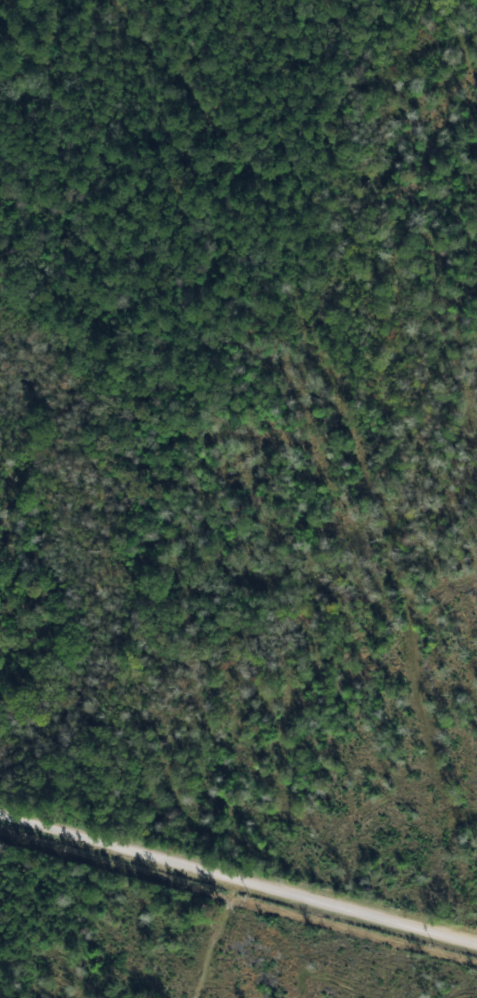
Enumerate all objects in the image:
road: (238, 861)

